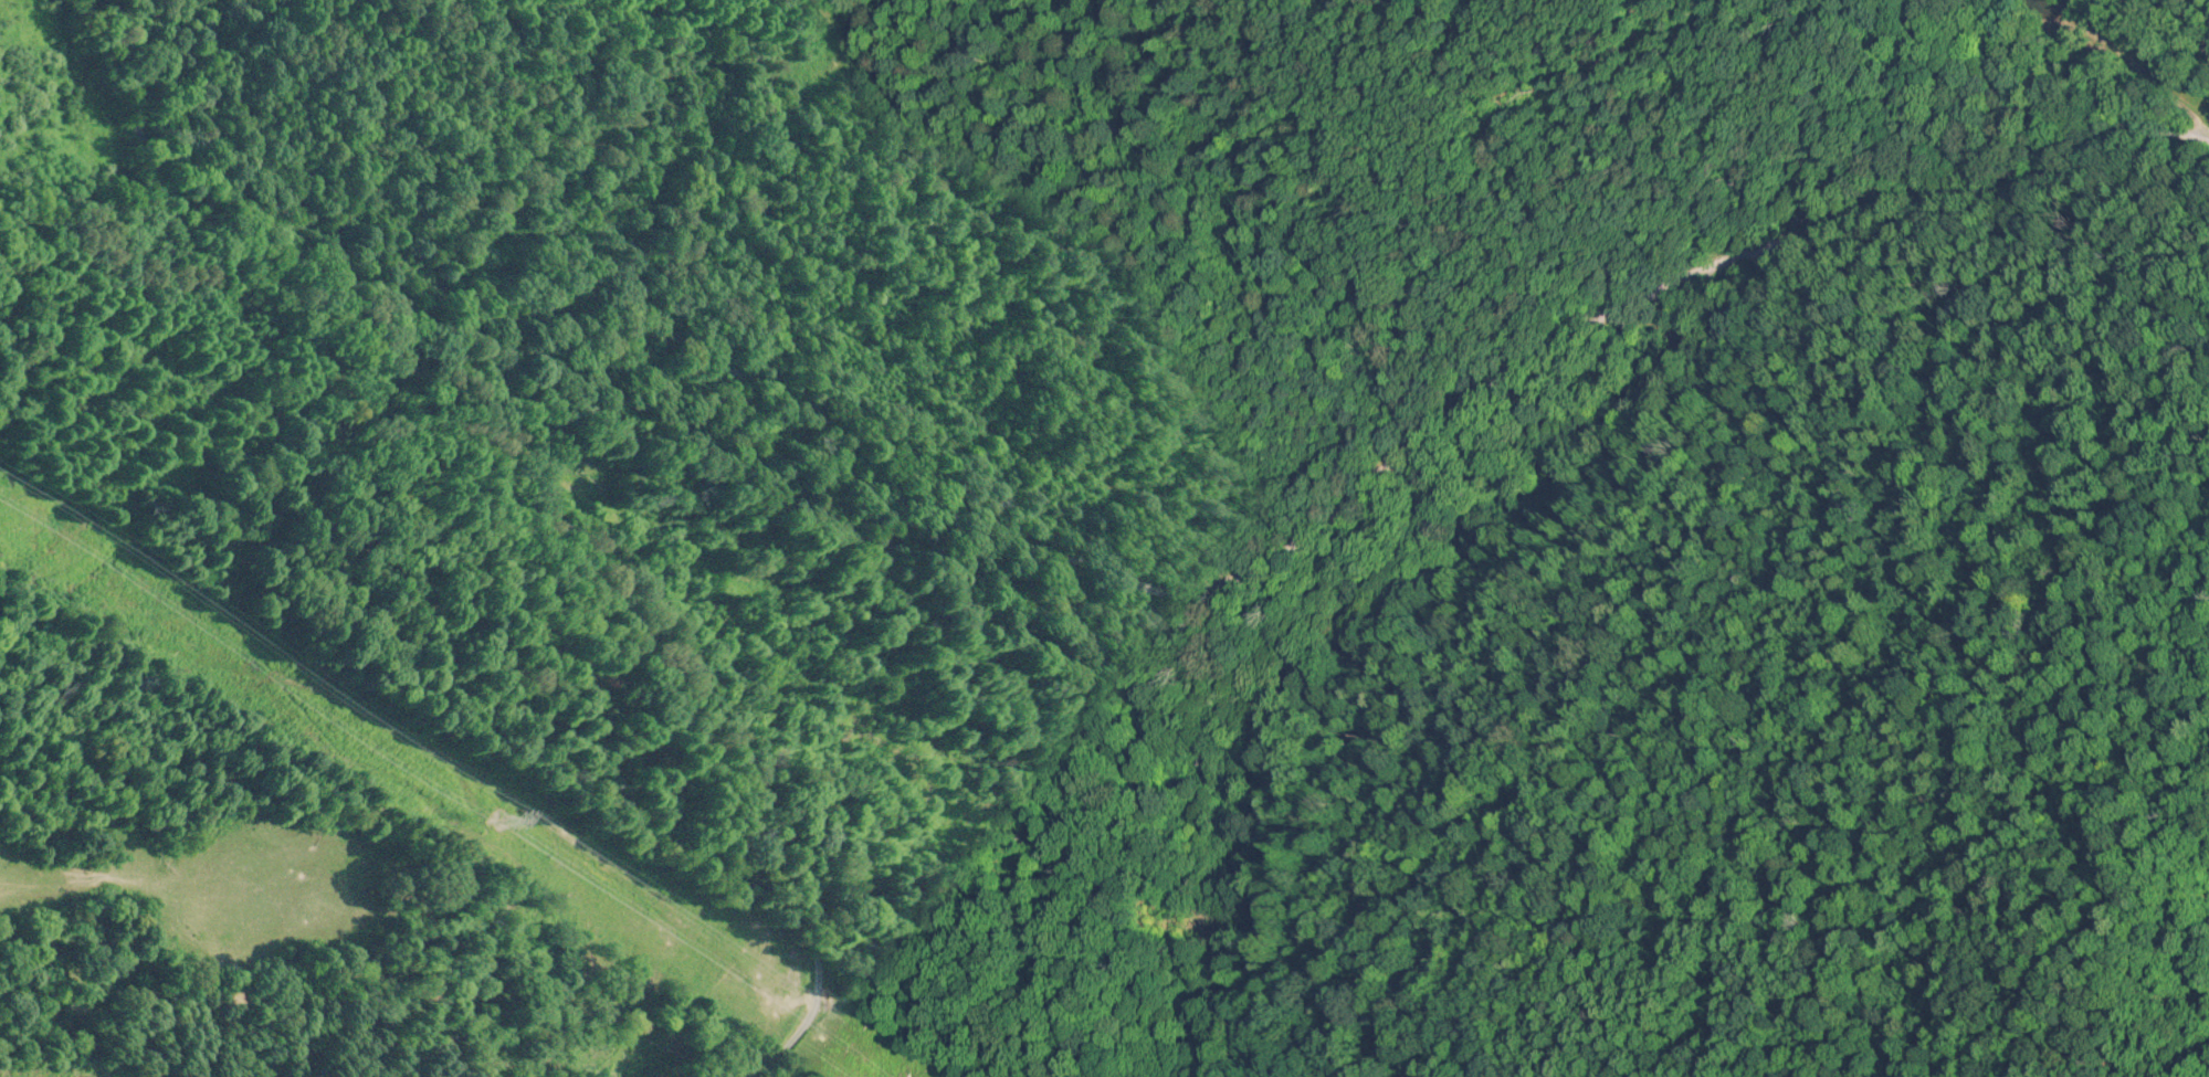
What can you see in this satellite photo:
road: (231, 202)
road: (1323, 494)
road: (695, 674)
power tower: (501, 820)

